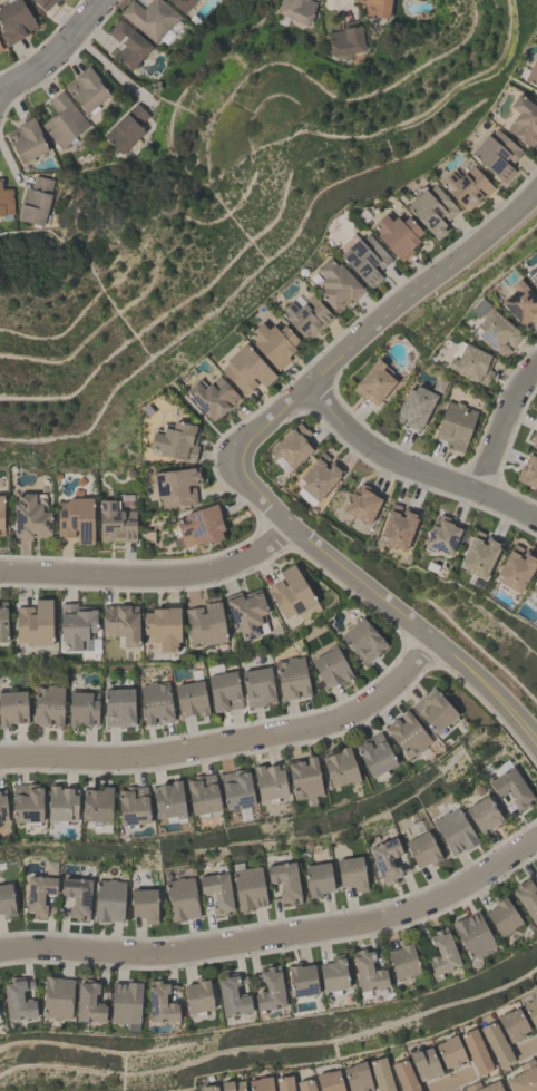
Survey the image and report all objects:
road: (343, 1)
building: (43, 3)
building: (180, 4)
building: (377, 8)
building: (296, 10)
building: (149, 17)
building: (14, 20)
building: (345, 40)
building: (127, 43)
building: (0, 47)
road: (53, 58)
road: (111, 69)
building: (531, 72)
building: (86, 89)
building: (524, 119)
building: (62, 120)
building: (126, 127)
building: (26, 140)
building: (496, 154)
building: (466, 186)
building: (4, 201)
building: (35, 201)
building: (431, 208)
building: (397, 234)
building: (363, 257)
building: (534, 279)
building: (335, 284)
building: (520, 302)
building: (305, 315)
building: (494, 329)
road: (345, 339)
building: (273, 343)
building: (471, 362)
building: (246, 369)
building: (373, 382)
building: (212, 397)
building: (414, 407)
road: (497, 416)
building: (455, 425)
building: (534, 438)
building: (176, 441)
building: (291, 448)
road: (409, 468)
building: (528, 471)
building: (318, 479)
building: (176, 486)
building: (362, 504)
building: (1, 515)
building: (31, 517)
building: (75, 519)
building: (116, 523)
building: (199, 526)
building: (398, 527)
building: (441, 535)
building: (479, 554)
building: (515, 569)
road: (149, 574)
building: (291, 593)
building: (534, 593)
building: (246, 613)
building: (2, 622)
building: (205, 622)
building: (33, 623)
building: (120, 623)
building: (76, 625)
road: (417, 626)
building: (163, 627)
building: (363, 641)
building: (330, 668)
building: (292, 678)
building: (257, 686)
building: (224, 691)
building: (191, 699)
building: (155, 702)
building: (47, 704)
building: (12, 707)
building: (118, 707)
building: (82, 708)
building: (433, 711)
building: (407, 734)
road: (233, 741)
building: (374, 756)
building: (340, 768)
building: (304, 779)
building: (270, 783)
building: (511, 788)
building: (236, 790)
building: (203, 796)
building: (168, 800)
building: (27, 803)
building: (62, 805)
building: (2, 807)
building: (96, 807)
building: (131, 807)
building: (482, 815)
building: (453, 830)
building: (422, 850)
building: (385, 860)
building: (352, 874)
building: (318, 879)
building: (284, 881)
building: (248, 888)
building: (217, 892)
building: (38, 895)
building: (77, 897)
building: (180, 898)
building: (527, 898)
building: (108, 899)
building: (6, 900)
building: (144, 905)
building: (501, 916)
building: (472, 935)
road: (279, 936)
building: (441, 954)
building: (403, 961)
building: (368, 972)
building: (334, 975)
building: (302, 981)
building: (271, 990)
building: (198, 996)
building: (233, 996)
building: (57, 997)
building: (18, 1000)
building: (126, 1003)
building: (160, 1003)
building: (89, 1004)
building: (531, 1011)
building: (0, 1017)
building: (512, 1024)
building: (496, 1044)
road: (528, 1044)
building: (476, 1051)
building: (450, 1052)
building: (424, 1063)
building: (380, 1074)
building: (357, 1077)
building: (403, 1077)
building: (524, 1078)
road: (449, 1080)
building: (329, 1081)
building: (261, 1083)
building: (284, 1083)
building: (304, 1084)
building: (232, 1085)
road: (451, 1085)
building: (482, 1087)
building: (208, 1088)

